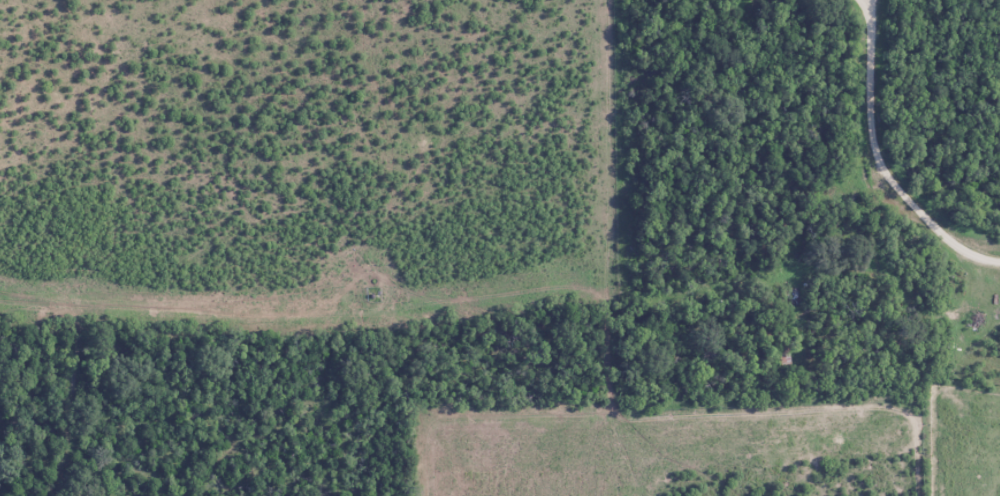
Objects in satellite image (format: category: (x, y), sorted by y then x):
road: (864, 6)
road: (870, 6)
road: (934, 77)
road: (884, 165)

